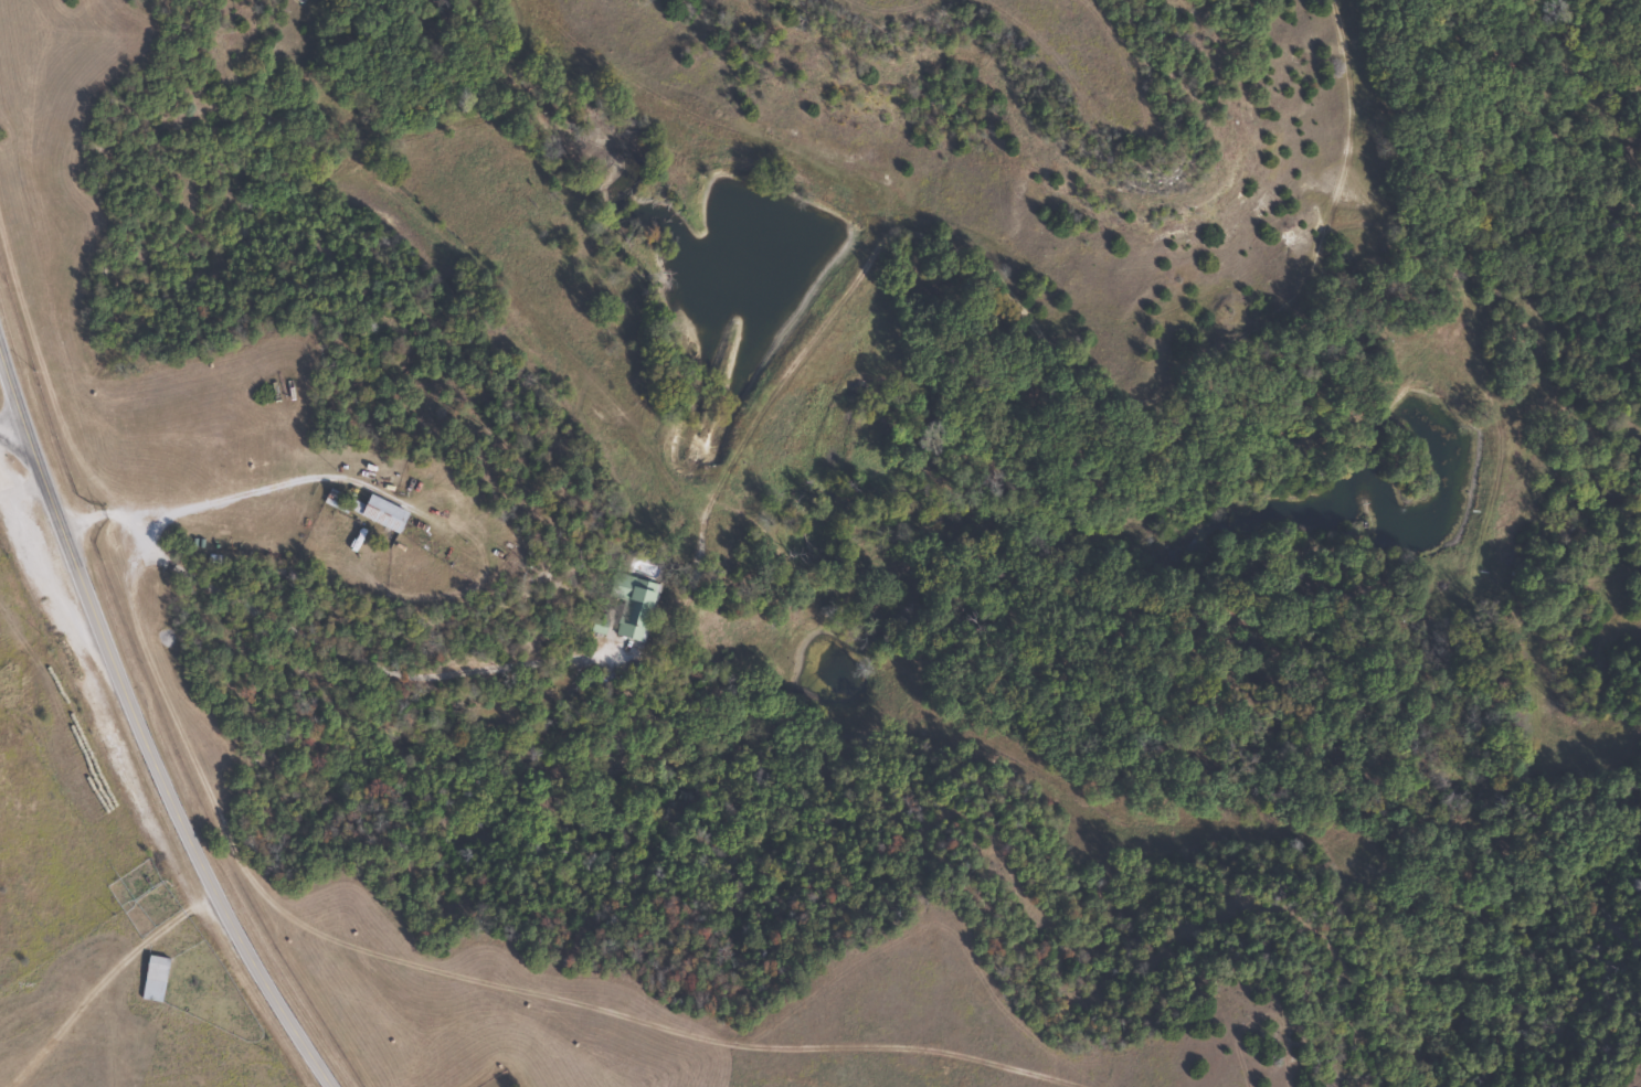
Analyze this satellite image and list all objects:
road: (28, 478)
building: (368, 510)
building: (633, 606)
road: (139, 727)
road: (112, 970)
building: (153, 979)
park: (500, 1080)

